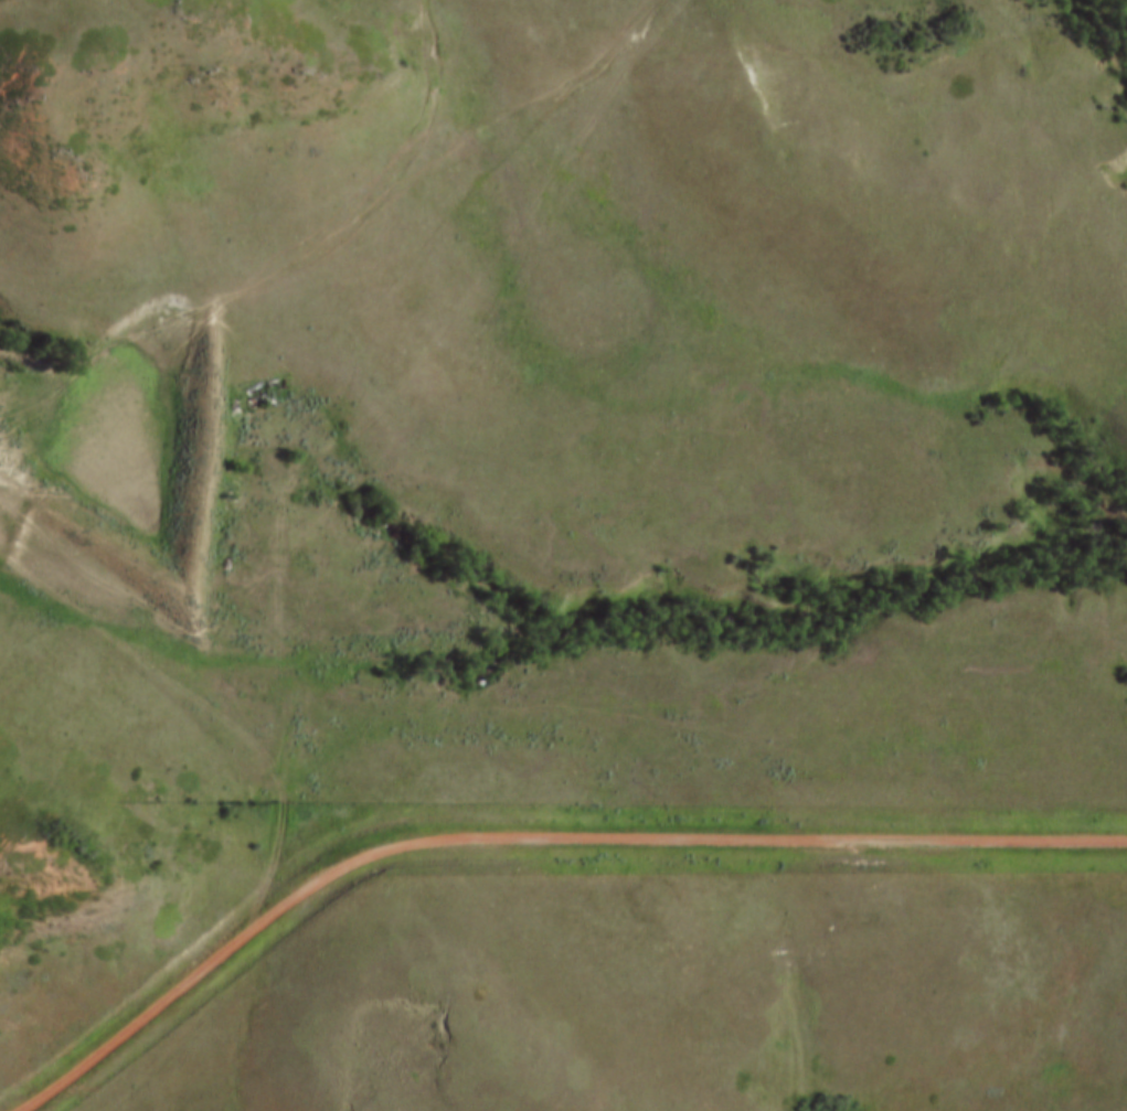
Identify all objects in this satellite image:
road: (528, 848)

